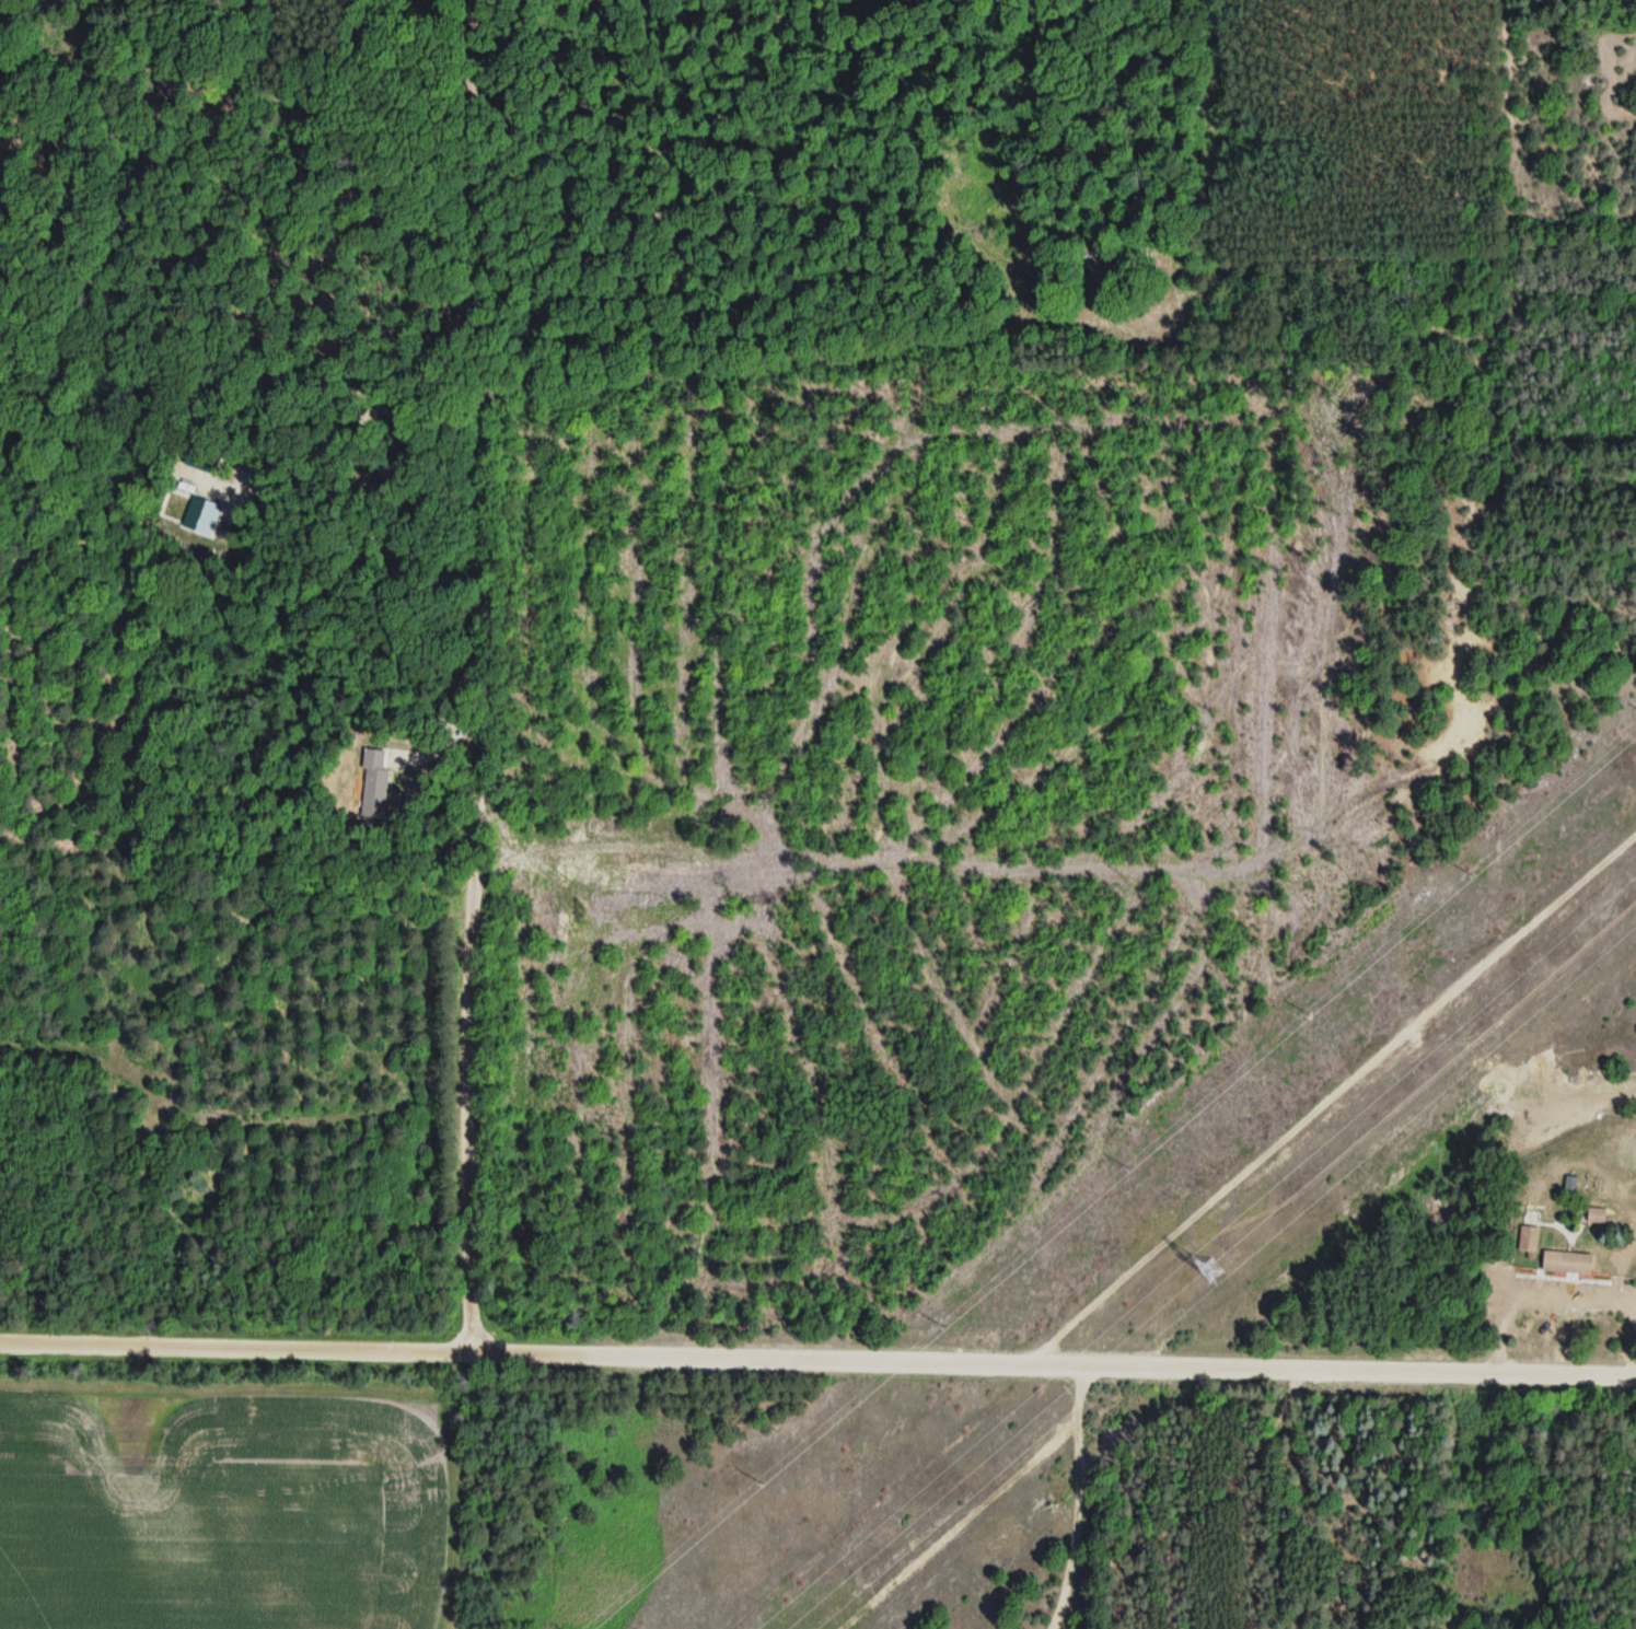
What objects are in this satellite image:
road: (473, 675)
building: (1594, 1215)
building: (1566, 1263)
power tower: (1209, 1270)
road: (817, 1357)

